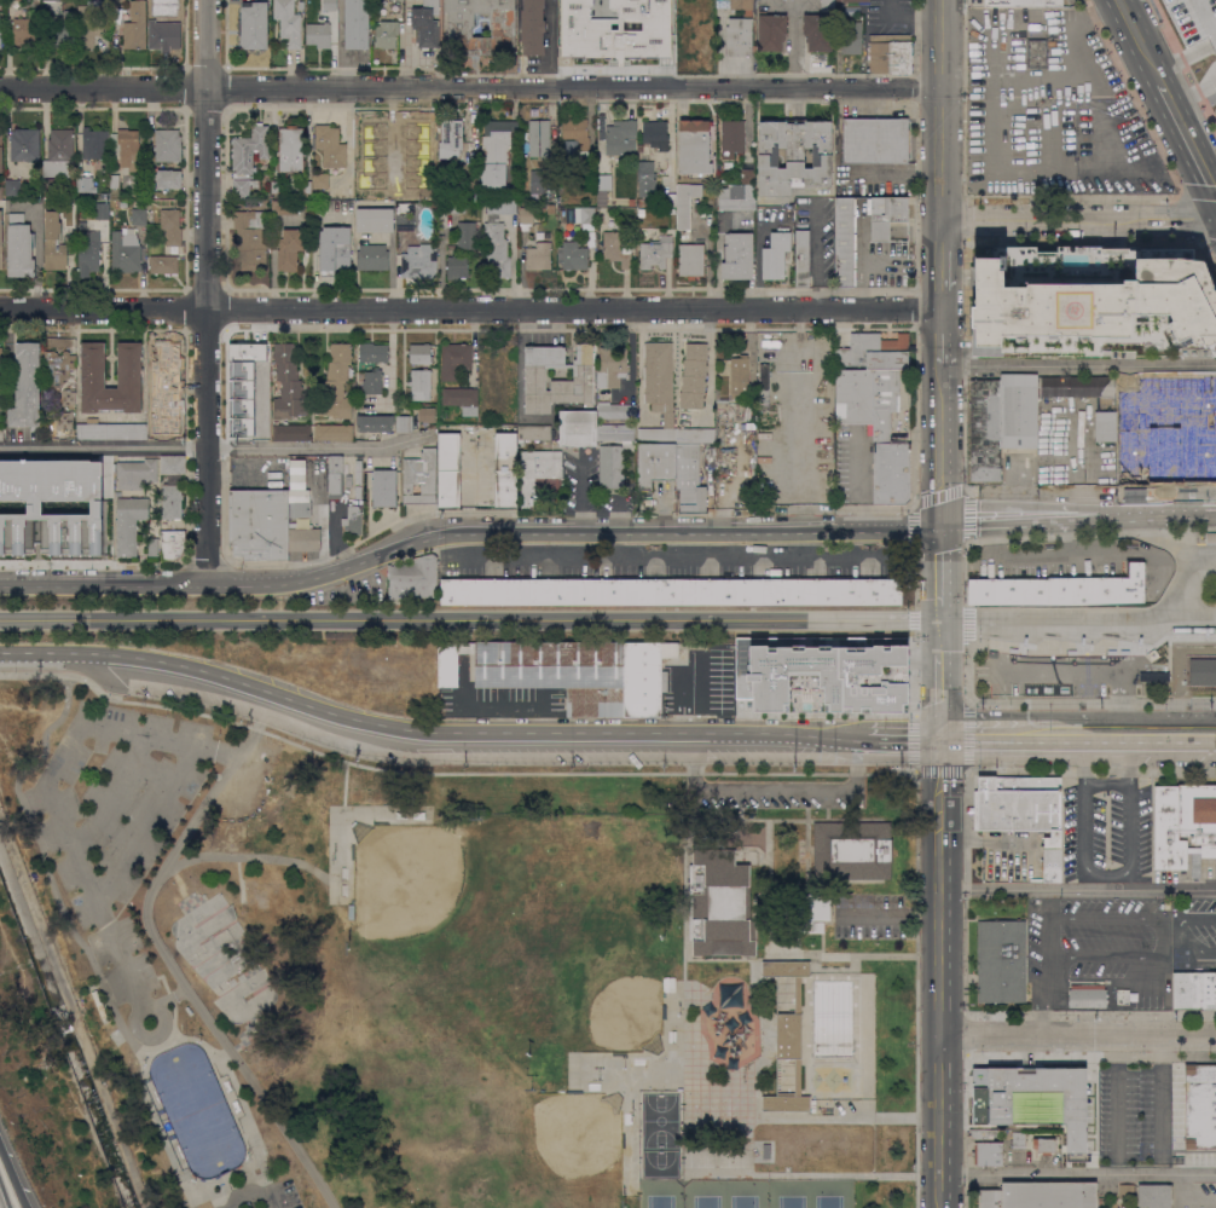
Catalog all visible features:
building: (13, 0)
building: (51, 0)
building: (117, 2)
building: (864, 2)
building: (1024, 2)
building: (301, 5)
building: (330, 5)
building: (828, 5)
building: (697, 8)
road: (1088, 17)
building: (600, 21)
building: (92, 22)
building: (288, 22)
building: (357, 23)
building: (650, 23)
building: (427, 24)
building: (135, 25)
building: (253, 25)
building: (533, 27)
building: (581, 27)
building: (27, 29)
building: (740, 29)
building: (63, 30)
building: (459, 30)
building: (771, 30)
building: (818, 30)
building: (620, 31)
building: (164, 34)
building: (319, 34)
building: (386, 34)
building: (852, 37)
building: (0, 39)
building: (684, 40)
road: (1136, 41)
road: (720, 47)
building: (891, 53)
building: (1037, 53)
road: (551, 58)
road: (1183, 63)
road: (469, 86)
road: (1129, 96)
road: (938, 110)
building: (577, 132)
building: (655, 135)
building: (539, 137)
building: (621, 137)
building: (733, 137)
building: (875, 140)
road: (1187, 140)
building: (93, 143)
building: (451, 143)
building: (25, 144)
building: (167, 145)
building: (330, 146)
building: (694, 146)
building: (126, 148)
building: (411, 148)
building: (249, 149)
building: (290, 149)
building: (470, 149)
building: (1, 152)
building: (496, 152)
building: (59, 154)
building: (794, 155)
building: (369, 168)
building: (645, 170)
building: (563, 177)
building: (748, 177)
building: (167, 178)
building: (320, 180)
building: (537, 181)
building: (604, 181)
building: (430, 183)
building: (85, 184)
building: (114, 185)
building: (243, 186)
building: (274, 186)
building: (307, 186)
building: (13, 187)
building: (387, 187)
building: (1, 189)
building: (664, 190)
building: (105, 195)
building: (737, 196)
building: (525, 200)
building: (643, 200)
building: (671, 201)
building: (685, 202)
building: (123, 203)
building: (238, 204)
road: (1183, 204)
building: (452, 206)
building: (284, 207)
building: (500, 208)
building: (551, 208)
building: (102, 210)
building: (641, 213)
building: (886, 214)
building: (139, 215)
building: (405, 215)
building: (585, 216)
building: (526, 218)
road: (1077, 219)
building: (375, 220)
building: (81, 225)
building: (170, 226)
building: (150, 230)
building: (465, 235)
building: (1, 239)
building: (250, 239)
building: (54, 242)
building: (844, 242)
road: (967, 245)
building: (19, 247)
building: (615, 247)
building: (290, 249)
building: (334, 249)
building: (126, 250)
building: (497, 250)
building: (656, 252)
road: (913, 252)
building: (88, 253)
road: (815, 253)
building: (776, 254)
building: (538, 255)
building: (573, 255)
building: (737, 255)
building: (372, 256)
building: (801, 258)
building: (419, 260)
building: (691, 260)
building: (163, 264)
road: (757, 265)
building: (457, 267)
road: (208, 291)
road: (939, 291)
building: (1091, 301)
road: (469, 307)
building: (1, 349)
building: (875, 351)
building: (374, 352)
building: (419, 354)
building: (454, 359)
road: (1077, 363)
building: (58, 365)
building: (93, 365)
building: (1, 366)
building: (612, 366)
building: (254, 371)
building: (163, 374)
building: (534, 374)
building: (694, 375)
road: (521, 378)
building: (740, 378)
building: (372, 381)
building: (288, 383)
building: (336, 383)
building: (419, 385)
building: (27, 387)
building: (659, 391)
building: (260, 395)
building: (65, 399)
building: (462, 399)
building: (615, 410)
building: (425, 414)
building: (1026, 414)
building: (63, 422)
building: (375, 423)
building: (404, 423)
building: (163, 427)
building: (876, 427)
building: (578, 428)
building: (111, 429)
building: (242, 429)
building: (291, 432)
building: (332, 432)
building: (533, 432)
building: (695, 435)
road: (207, 444)
road: (939, 444)
building: (615, 453)
road: (1075, 453)
building: (655, 463)
building: (173, 464)
building: (450, 470)
building: (505, 470)
building: (135, 473)
building: (335, 473)
building: (540, 474)
building: (419, 478)
building: (689, 478)
building: (174, 479)
building: (384, 487)
road: (1089, 491)
building: (358, 492)
road: (938, 497)
road: (1075, 498)
building: (172, 501)
building: (53, 505)
building: (300, 509)
road: (1145, 513)
road: (965, 515)
road: (1007, 518)
building: (353, 520)
building: (128, 522)
building: (260, 524)
traffic signals: (939, 526)
road: (913, 530)
road: (465, 532)
road: (1090, 532)
building: (303, 537)
road: (1204, 538)
building: (170, 542)
building: (152, 545)
road: (92, 561)
road: (205, 561)
road: (938, 566)
road: (965, 572)
building: (413, 578)
road: (915, 580)
building: (1060, 588)
building: (671, 591)
road: (938, 612)
road: (915, 618)
traffic signals: (938, 619)
road: (967, 625)
road: (938, 636)
road: (1093, 648)
building: (740, 664)
road: (1096, 669)
building: (569, 671)
building: (828, 671)
building: (1203, 671)
road: (916, 672)
road: (967, 674)
building: (1154, 676)
road: (938, 693)
road: (1090, 701)
road: (429, 732)
road: (1029, 733)
road: (1168, 733)
road: (903, 734)
traffic signals: (938, 734)
road: (59, 763)
road: (946, 769)
road: (1090, 769)
road: (450, 773)
road: (774, 790)
road: (106, 792)
building: (1023, 813)
parking lot: (115, 821)
road: (145, 822)
building: (1185, 825)
parking lot: (1106, 833)
building: (852, 850)
road: (938, 852)
road: (247, 856)
road: (45, 863)
road: (1107, 874)
road: (176, 879)
park: (409, 886)
road: (1077, 889)
building: (720, 904)
building: (816, 913)
road: (1105, 917)
road: (1048, 923)
road: (1180, 927)
park: (224, 956)
road: (1123, 956)
building: (1001, 961)
park: (471, 971)
road: (181, 982)
road: (916, 988)
building: (1194, 990)
road: (1043, 994)
building: (1088, 995)
road: (169, 996)
building: (1123, 996)
road: (170, 1002)
road: (938, 1002)
road: (156, 1007)
park: (618, 1008)
road: (968, 1013)
road: (1077, 1034)
building: (787, 1038)
road: (222, 1052)
road: (1014, 1053)
building: (994, 1080)
road: (241, 1102)
road: (1116, 1103)
road: (1162, 1103)
building: (1200, 1105)
building: (1050, 1106)
park: (195, 1109)
road: (938, 1121)
road: (157, 1129)
park: (660, 1133)
building: (982, 1133)
park: (569, 1138)
building: (1019, 1140)
building: (1044, 1145)
building: (989, 1154)
road: (1077, 1172)
road: (804, 1174)
road: (13, 1175)
building: (1127, 1191)
park: (787, 1192)
road: (1193, 1192)
park: (660, 1193)
park: (702, 1193)
park: (745, 1193)
park: (830, 1193)
road: (220, 1195)
building: (1040, 1195)
building: (1154, 1196)
parking lot: (266, 1197)
road: (245, 1200)
road: (272, 1200)
road: (190, 1207)
building: (1124, 1207)

